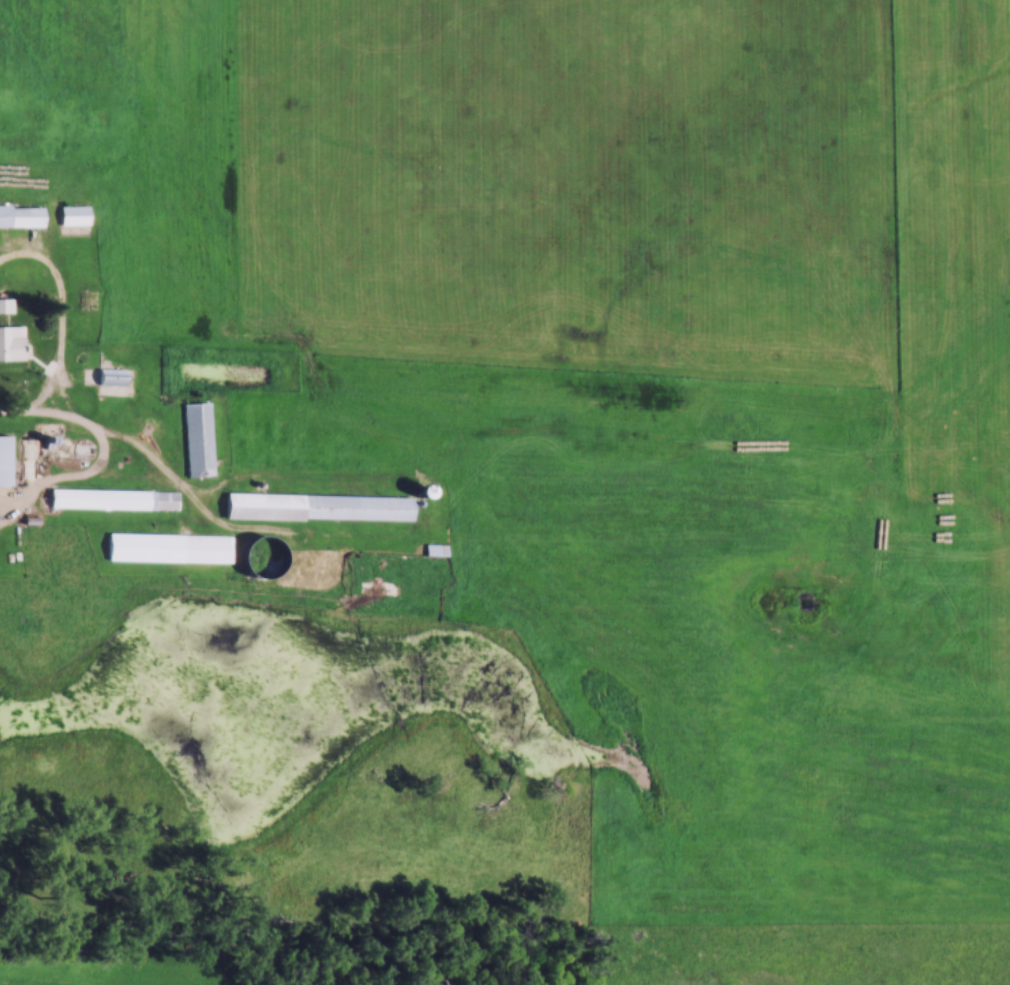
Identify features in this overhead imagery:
building: (19, 217)
building: (72, 217)
building: (6, 308)
road: (63, 335)
building: (10, 345)
building: (109, 378)
building: (196, 440)
building: (35, 455)
building: (6, 462)
building: (111, 501)
building: (315, 509)
building: (956, 543)
building: (166, 550)

